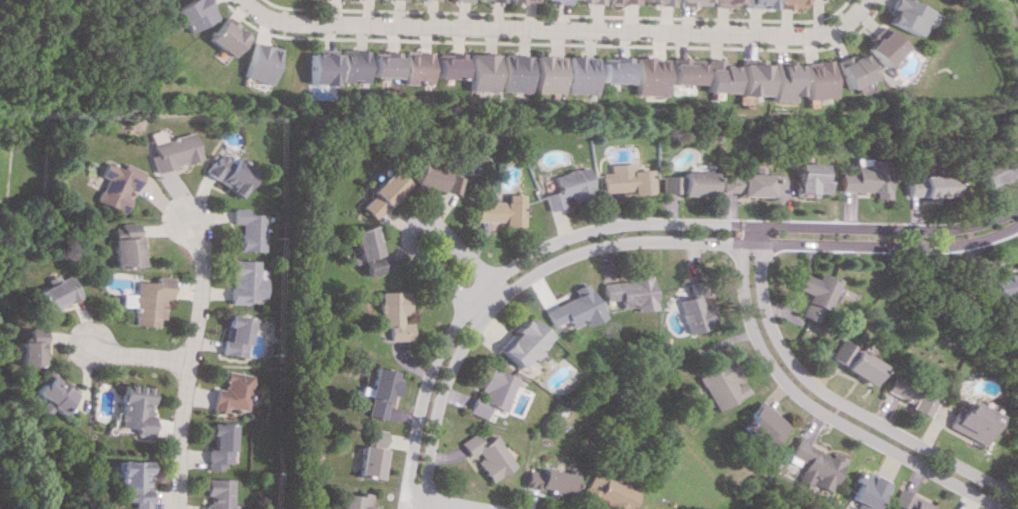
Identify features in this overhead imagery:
building: (427, 0)
building: (459, 0)
building: (490, 0)
building: (524, 1)
building: (556, 1)
building: (589, 1)
building: (621, 2)
building: (657, 2)
building: (687, 2)
building: (719, 3)
building: (785, 3)
building: (753, 4)
building: (191, 14)
building: (904, 16)
road: (553, 31)
building: (223, 38)
building: (879, 47)
building: (257, 63)
building: (385, 64)
building: (352, 65)
building: (450, 66)
building: (417, 67)
building: (319, 68)
building: (614, 70)
building: (848, 70)
building: (679, 71)
building: (483, 72)
building: (515, 73)
building: (548, 74)
building: (581, 75)
building: (646, 76)
building: (711, 76)
building: (744, 80)
building: (811, 80)
building: (777, 81)
building: (172, 152)
building: (995, 169)
building: (225, 173)
building: (865, 177)
building: (435, 179)
building: (626, 179)
building: (808, 179)
building: (752, 182)
building: (694, 183)
building: (669, 184)
building: (728, 184)
building: (115, 186)
building: (926, 186)
building: (569, 187)
building: (380, 193)
building: (501, 210)
road: (410, 225)
road: (624, 226)
building: (245, 229)
road: (637, 241)
building: (123, 247)
building: (363, 249)
building: (242, 282)
building: (1003, 285)
building: (53, 293)
building: (627, 293)
building: (811, 295)
building: (121, 300)
building: (145, 300)
building: (572, 309)
building: (693, 311)
building: (393, 315)
building: (232, 336)
building: (521, 342)
building: (25, 348)
road: (128, 354)
road: (184, 358)
building: (852, 362)
building: (717, 383)
building: (229, 392)
building: (378, 392)
building: (492, 392)
building: (910, 394)
building: (46, 395)
road: (835, 402)
building: (129, 409)
road: (814, 410)
building: (972, 422)
building: (760, 425)
building: (215, 446)
building: (369, 455)
building: (487, 455)
building: (813, 465)
building: (548, 481)
building: (127, 482)
building: (863, 490)
building: (605, 492)
building: (216, 494)
building: (353, 501)
road: (438, 502)
building: (908, 502)

